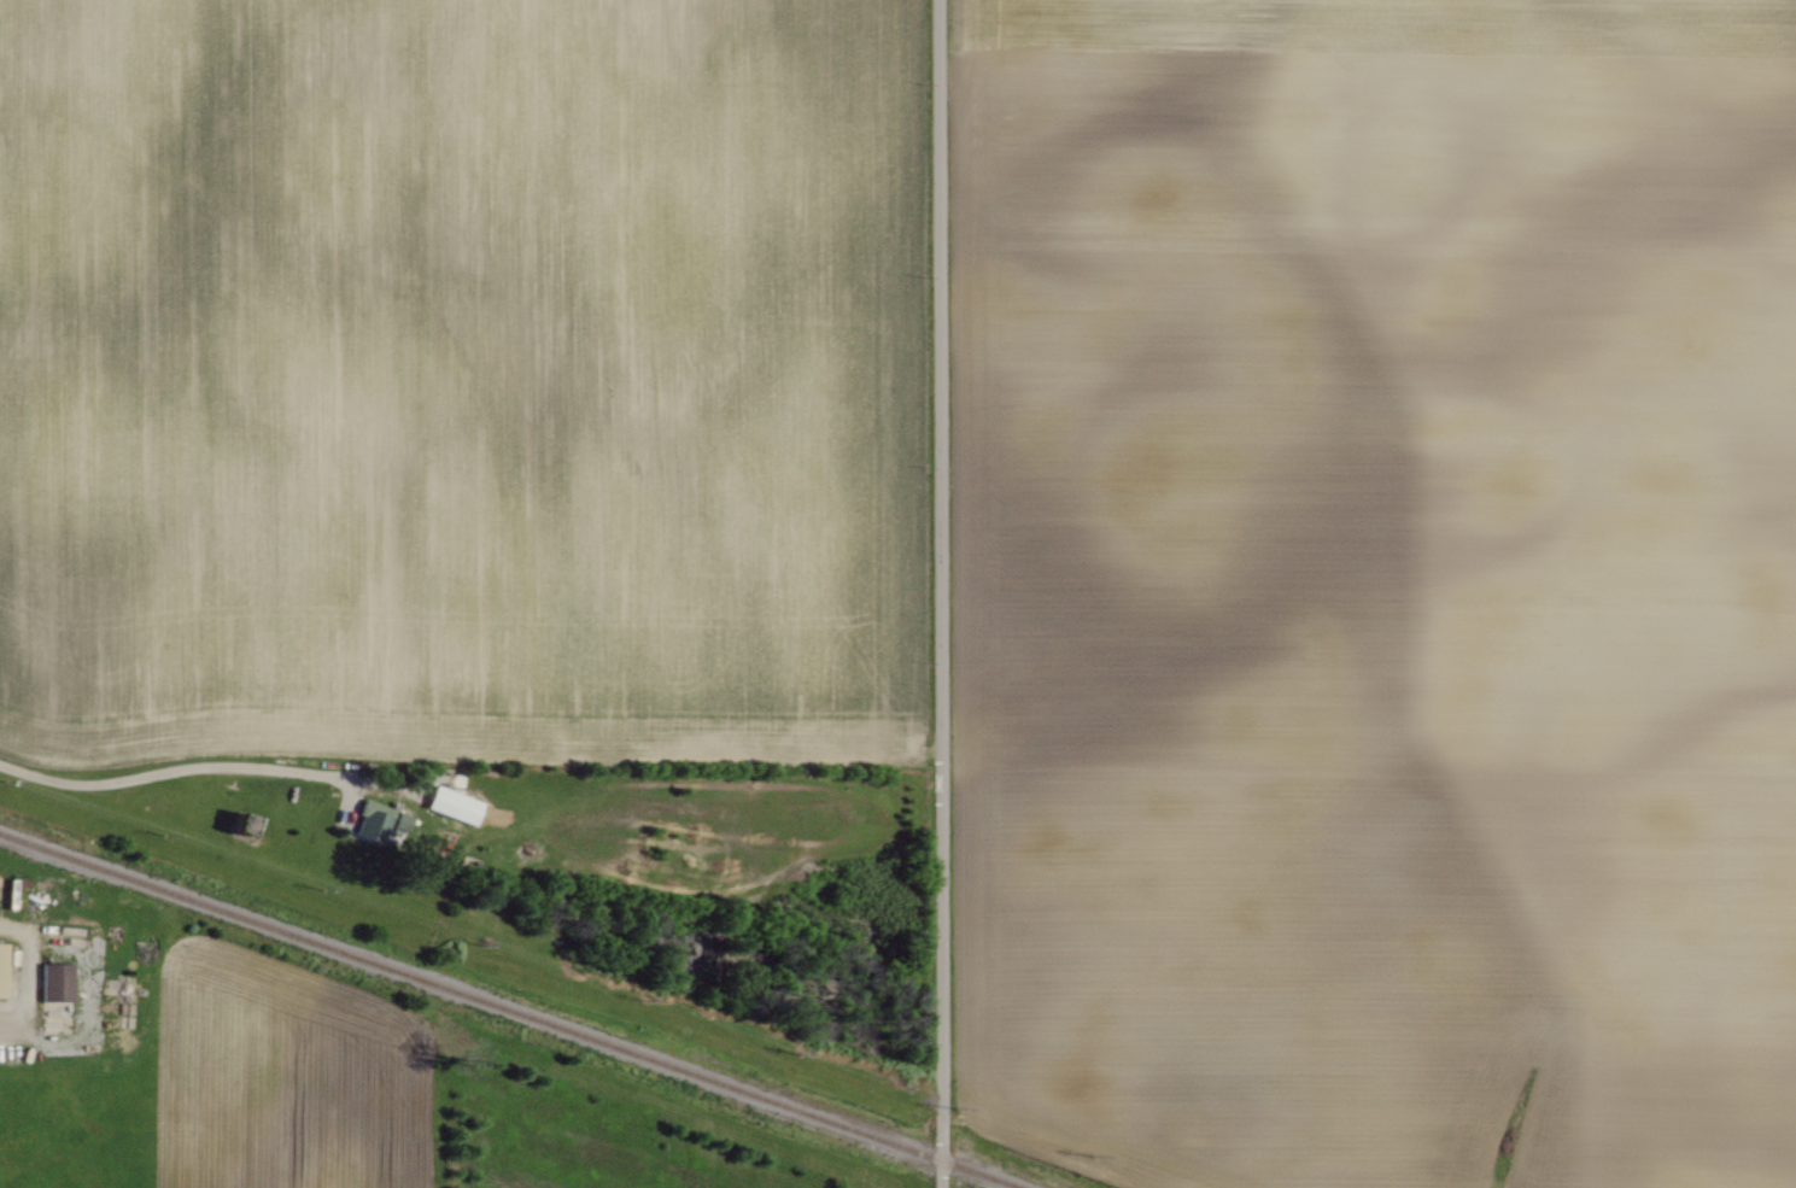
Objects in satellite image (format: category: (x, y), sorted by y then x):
road: (938, 593)
road: (228, 768)
road: (51, 782)
building: (451, 806)
building: (378, 821)
building: (0, 968)
building: (54, 983)
railway: (513, 1009)

